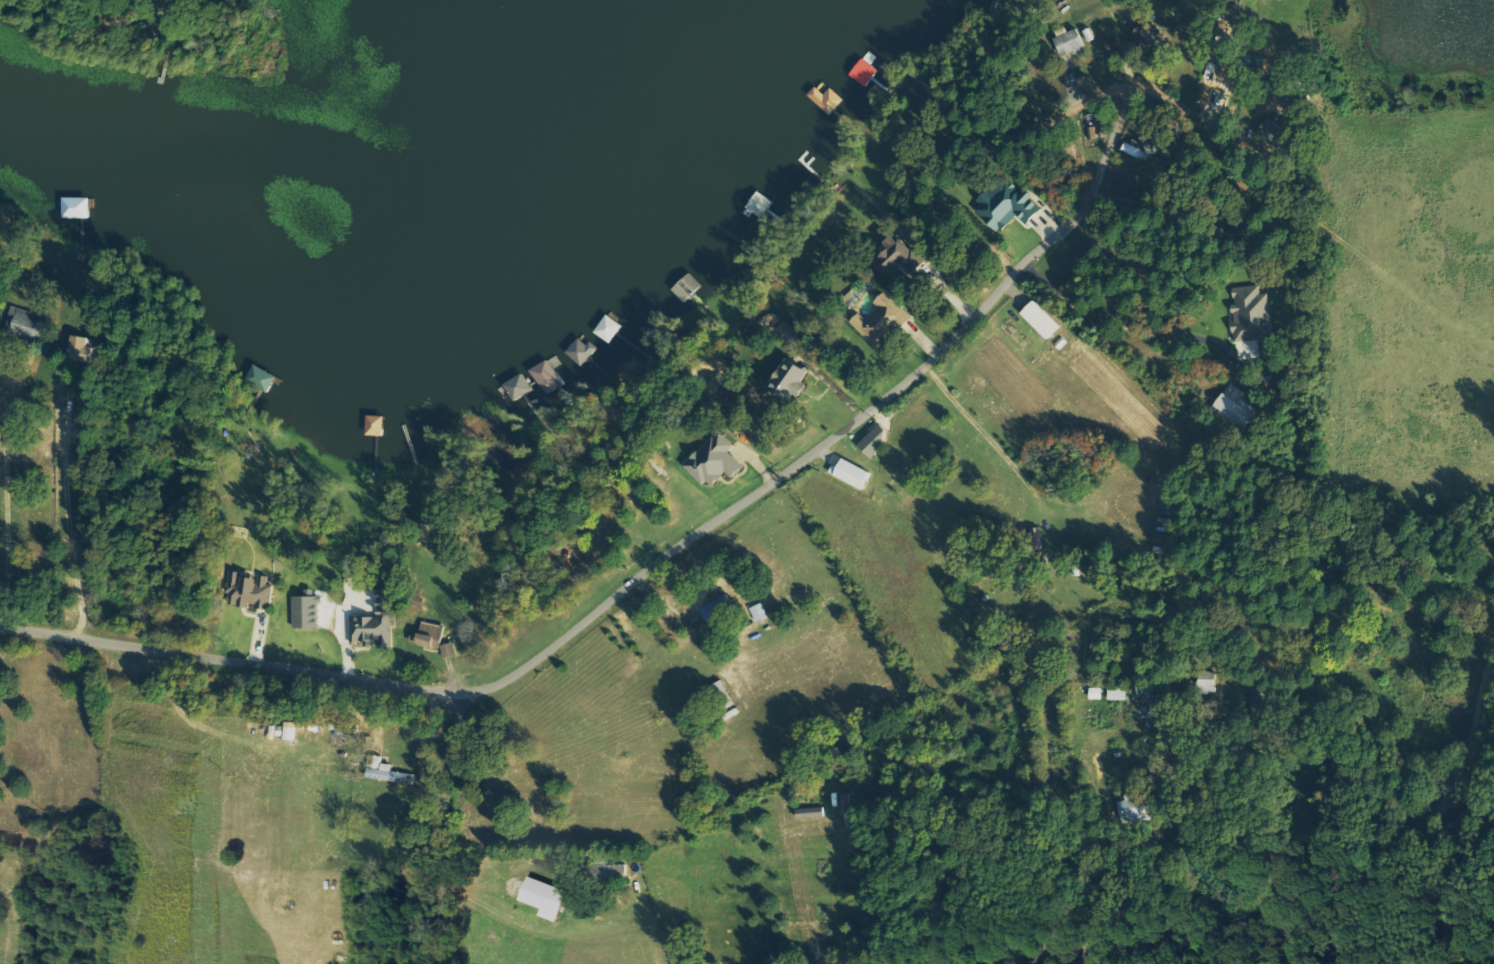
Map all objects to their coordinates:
building: (1070, 42)
building: (865, 73)
road: (1117, 89)
building: (827, 100)
building: (1136, 149)
building: (1008, 206)
building: (77, 209)
building: (1251, 315)
building: (1042, 320)
building: (883, 321)
building: (24, 323)
building: (82, 351)
building: (582, 352)
building: (548, 378)
building: (262, 379)
building: (791, 382)
building: (516, 389)
building: (1236, 411)
building: (375, 427)
building: (716, 462)
building: (854, 475)
road: (650, 566)
building: (250, 592)
building: (719, 610)
building: (761, 614)
building: (377, 622)
building: (430, 636)
building: (450, 651)
building: (1118, 695)
building: (387, 772)
road: (443, 827)
road: (1311, 887)
building: (545, 899)

